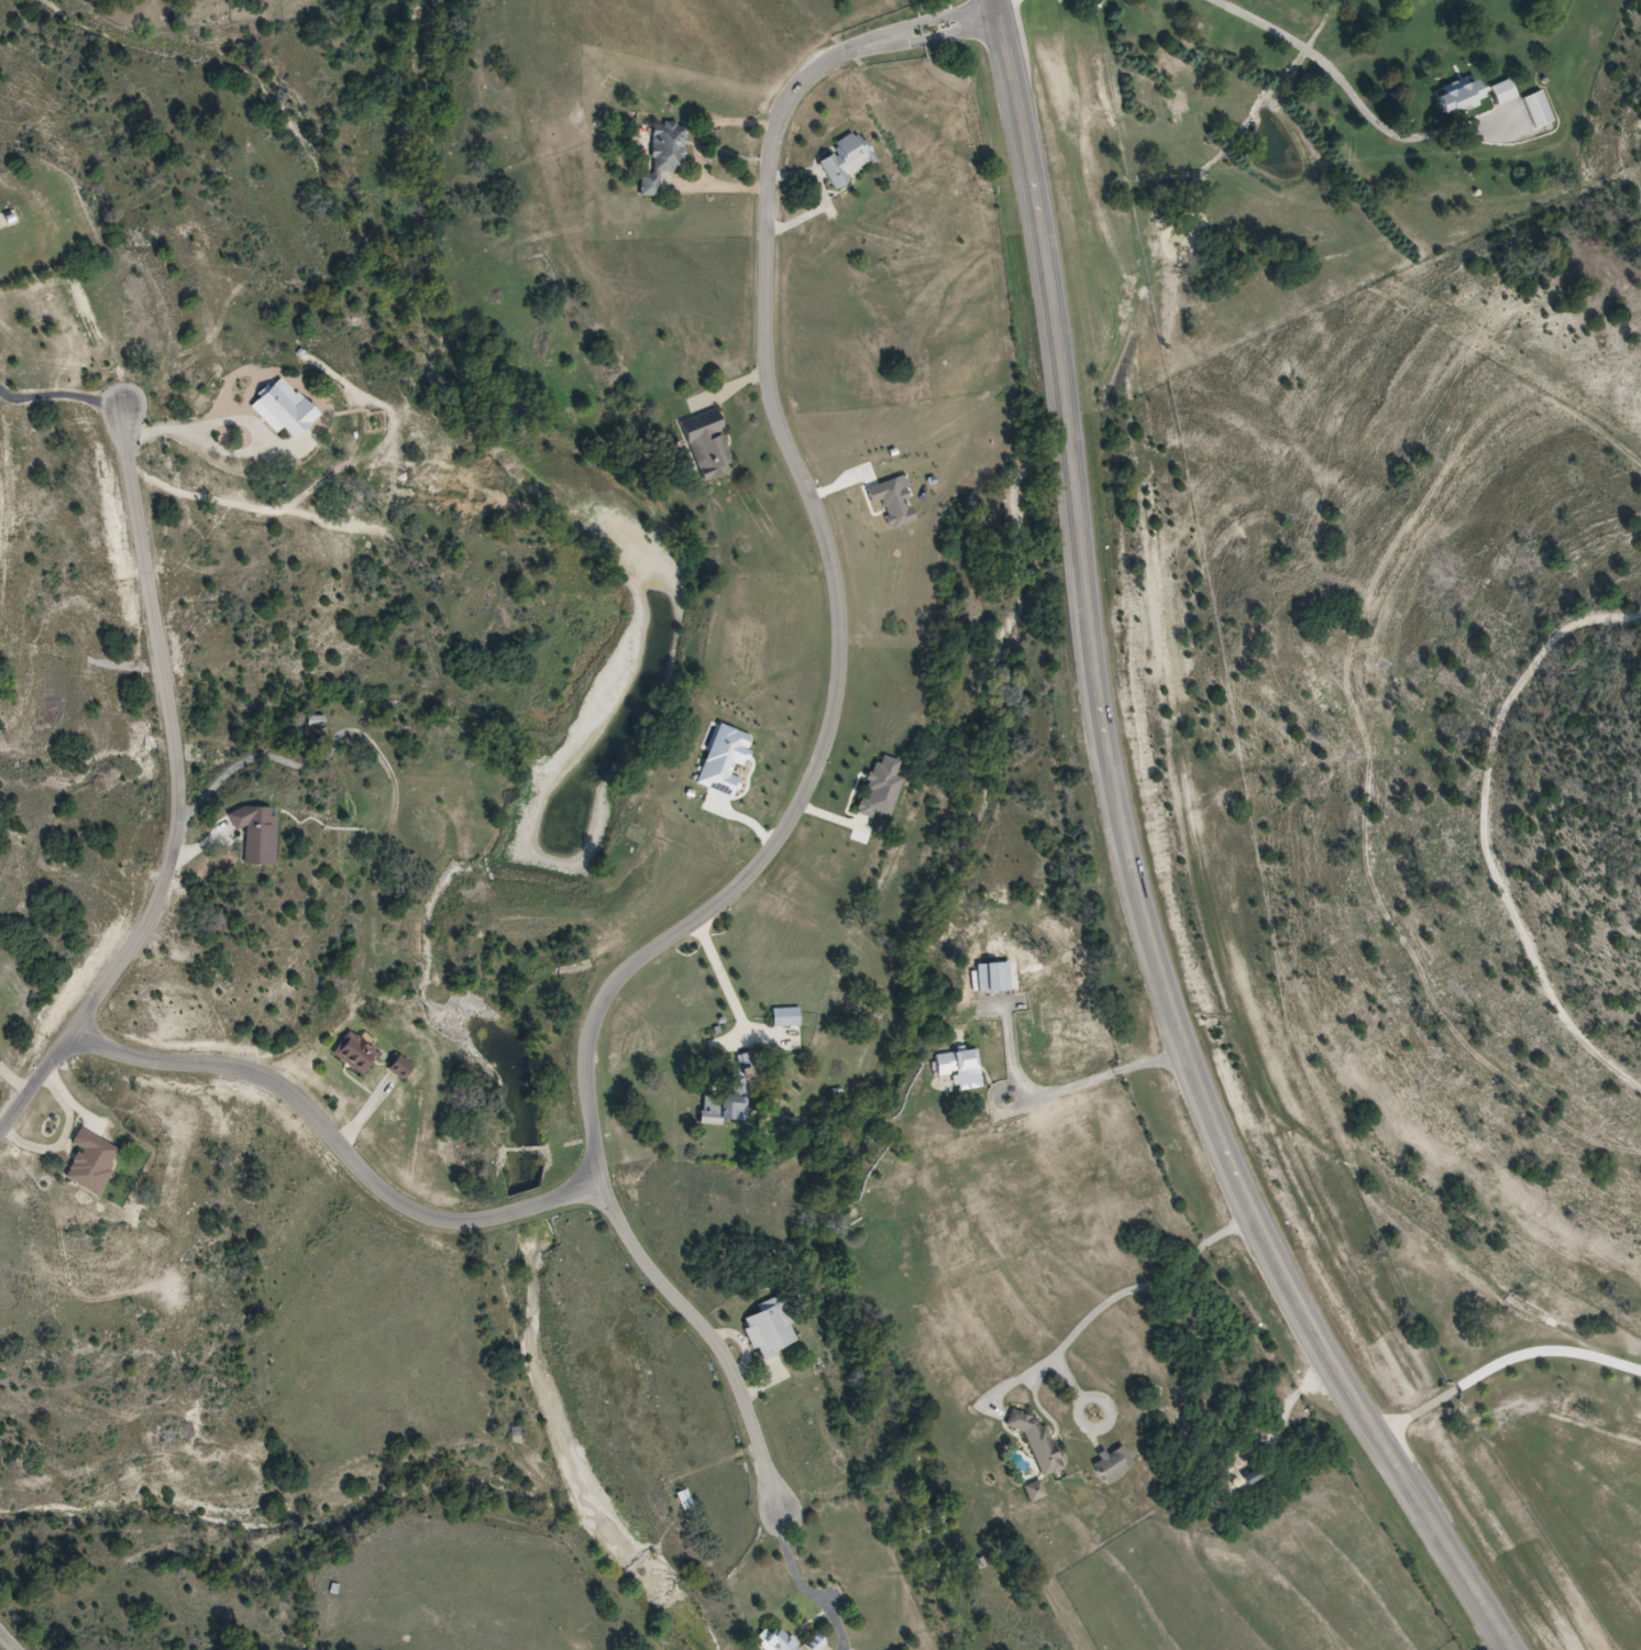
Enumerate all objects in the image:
road: (1359, 91)
building: (1504, 92)
building: (1462, 98)
building: (1538, 110)
road: (715, 130)
building: (667, 157)
building: (848, 161)
road: (720, 191)
road: (59, 395)
building: (287, 408)
road: (251, 419)
building: (709, 444)
road: (831, 566)
road: (184, 795)
building: (260, 833)
road: (1138, 864)
building: (994, 977)
road: (725, 979)
building: (789, 1016)
building: (356, 1054)
building: (403, 1068)
building: (962, 1068)
road: (1066, 1087)
building: (727, 1110)
building: (95, 1163)
road: (502, 1220)
road: (1119, 1295)
building: (773, 1328)
road: (1510, 1365)
building: (1038, 1441)
building: (1115, 1465)
building: (686, 1500)
road: (811, 1586)
road: (9, 1640)
building: (777, 1641)
building: (814, 1642)

